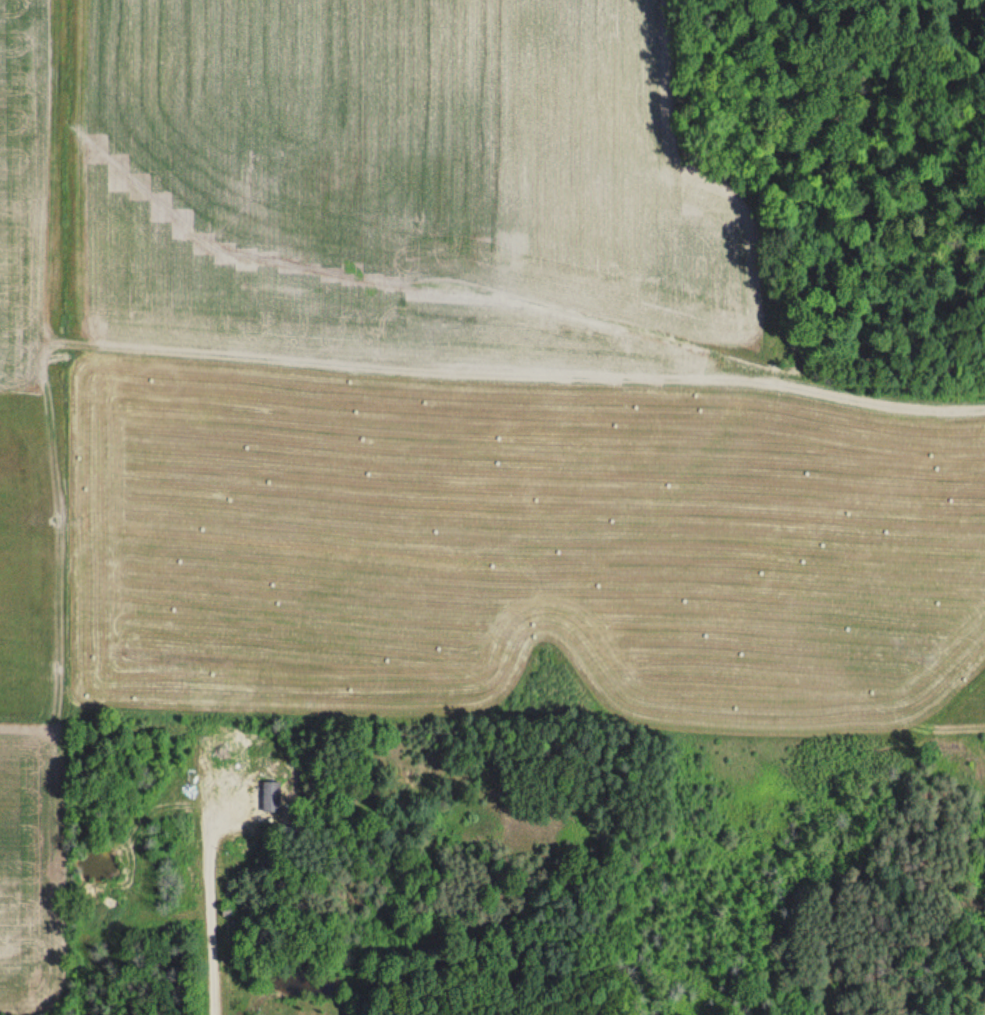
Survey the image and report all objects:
building: (266, 798)

